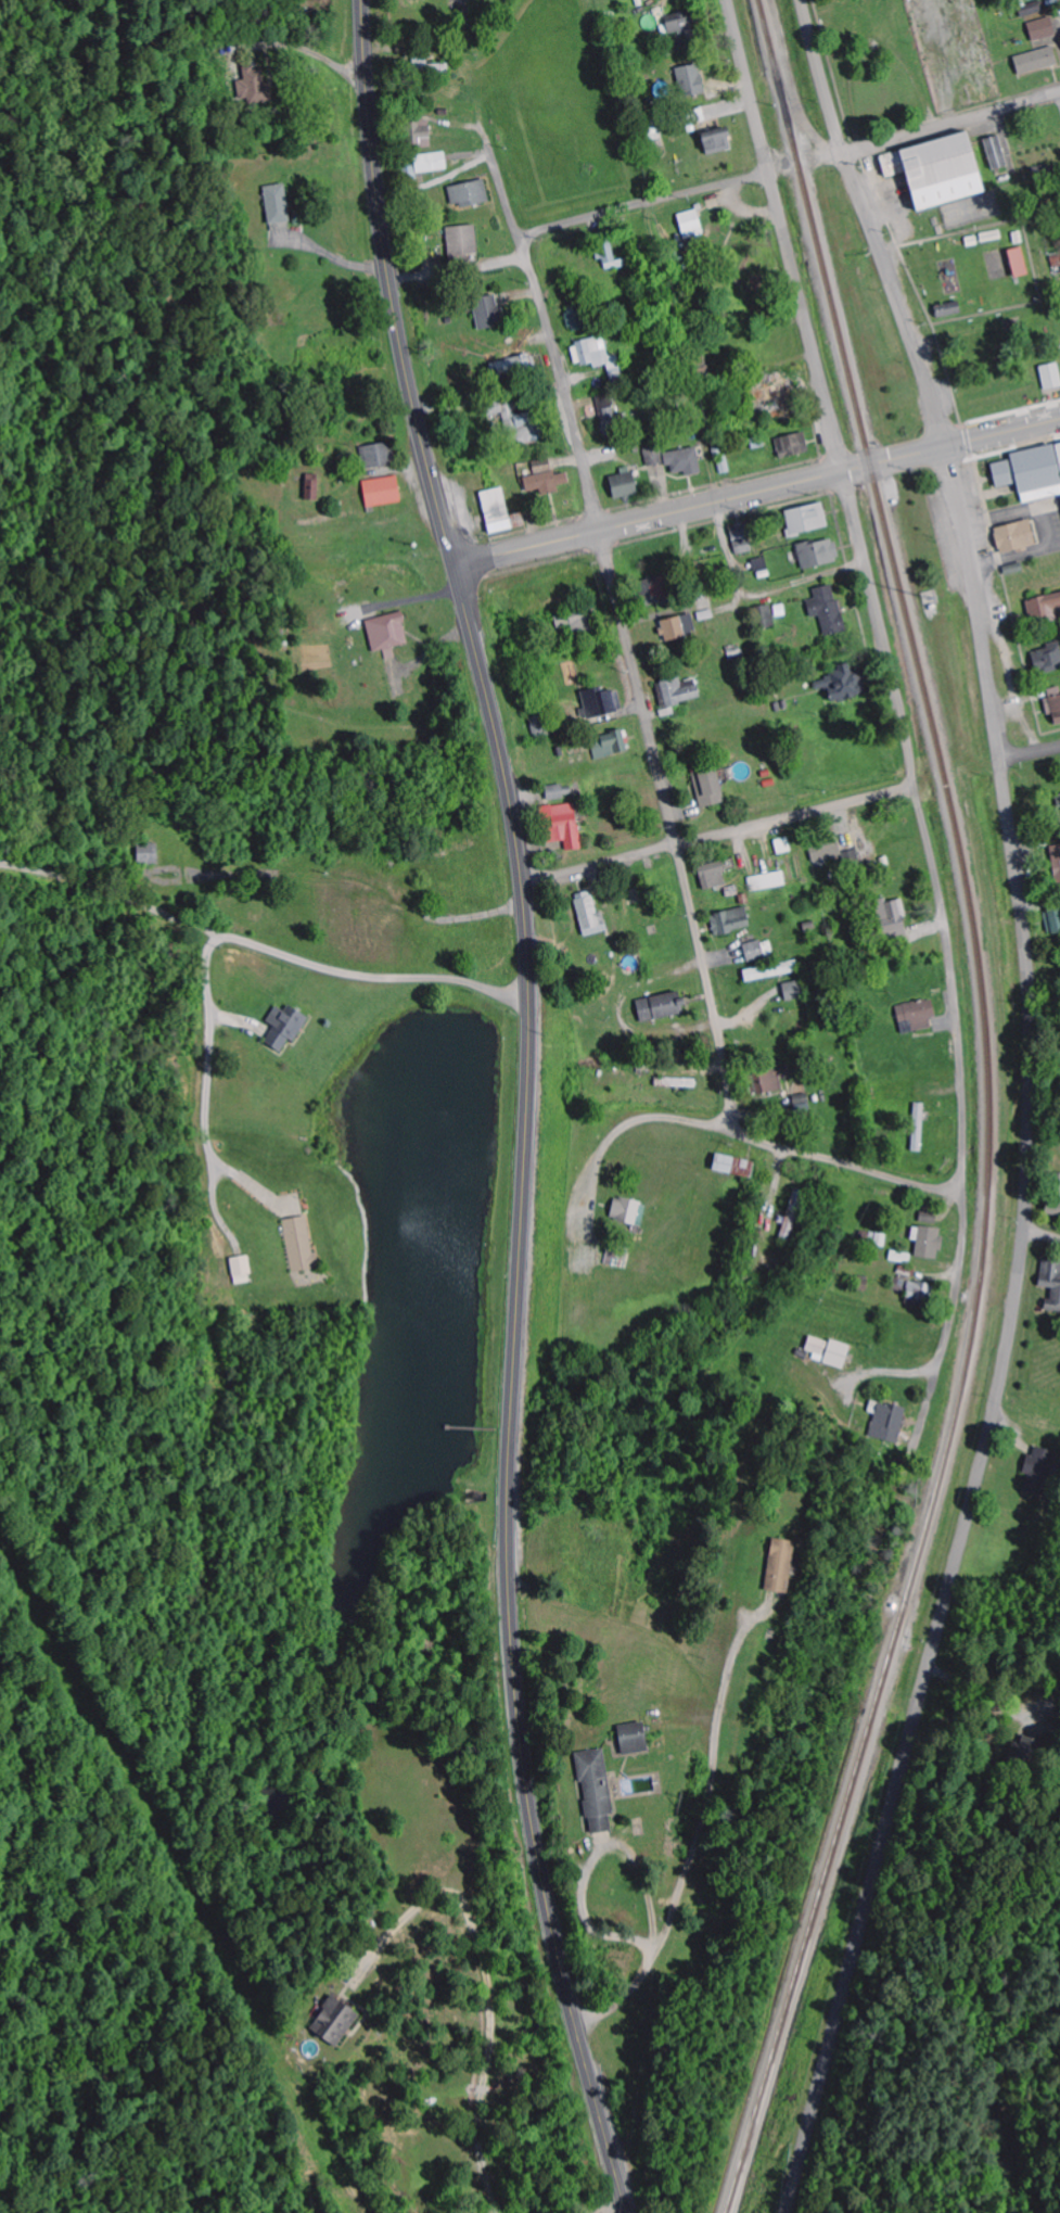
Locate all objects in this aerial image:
building: (1035, 12)
building: (681, 26)
building: (1043, 30)
building: (1037, 61)
building: (427, 64)
building: (691, 81)
building: (256, 86)
road: (954, 127)
building: (652, 129)
building: (420, 135)
building: (717, 142)
building: (995, 153)
building: (432, 163)
road: (806, 164)
building: (938, 173)
building: (470, 195)
road: (642, 204)
building: (277, 205)
building: (691, 225)
road: (782, 237)
building: (463, 242)
road: (1029, 257)
building: (1019, 263)
building: (948, 310)
building: (488, 314)
building: (576, 318)
road: (552, 339)
road: (685, 351)
building: (598, 357)
building: (507, 366)
road: (924, 374)
building: (1051, 377)
building: (793, 444)
building: (1059, 447)
building: (376, 455)
building: (676, 459)
building: (1032, 473)
building: (546, 478)
building: (624, 483)
building: (311, 489)
building: (383, 492)
parking lot: (970, 492)
road: (756, 493)
building: (500, 512)
parking lot: (1056, 512)
building: (807, 519)
building: (1016, 537)
building: (742, 539)
parking lot: (943, 540)
parking lot: (982, 540)
building: (818, 552)
building: (761, 564)
building: (656, 590)
building: (1044, 608)
building: (828, 609)
building: (766, 615)
building: (576, 620)
building: (679, 627)
building: (387, 632)
building: (1047, 659)
building: (844, 683)
building: (677, 694)
building: (601, 702)
building: (1056, 702)
building: (610, 745)
road: (1031, 755)
building: (710, 788)
building: (560, 792)
building: (563, 825)
road: (673, 831)
road: (924, 831)
road: (718, 836)
building: (783, 845)
building: (827, 853)
building: (149, 854)
building: (1058, 863)
building: (713, 876)
building: (768, 881)
building: (590, 914)
building: (893, 918)
building: (1053, 920)
building: (731, 921)
building: (759, 950)
road: (316, 966)
building: (771, 970)
building: (794, 991)
road: (1046, 991)
road: (507, 995)
road: (1033, 996)
building: (661, 1007)
building: (917, 1016)
building: (285, 1027)
road: (527, 1104)
railway: (991, 1110)
building: (919, 1128)
road: (749, 1136)
road: (210, 1167)
building: (735, 1167)
building: (1055, 1197)
building: (629, 1211)
building: (928, 1237)
road: (1042, 1238)
building: (299, 1244)
building: (617, 1258)
building: (242, 1270)
building: (1051, 1282)
building: (915, 1293)
road: (949, 1321)
building: (828, 1351)
building: (887, 1422)
building: (1038, 1471)
building: (780, 1567)
road: (915, 1725)
building: (634, 1740)
building: (597, 1793)
building: (335, 2021)
road: (586, 2197)

